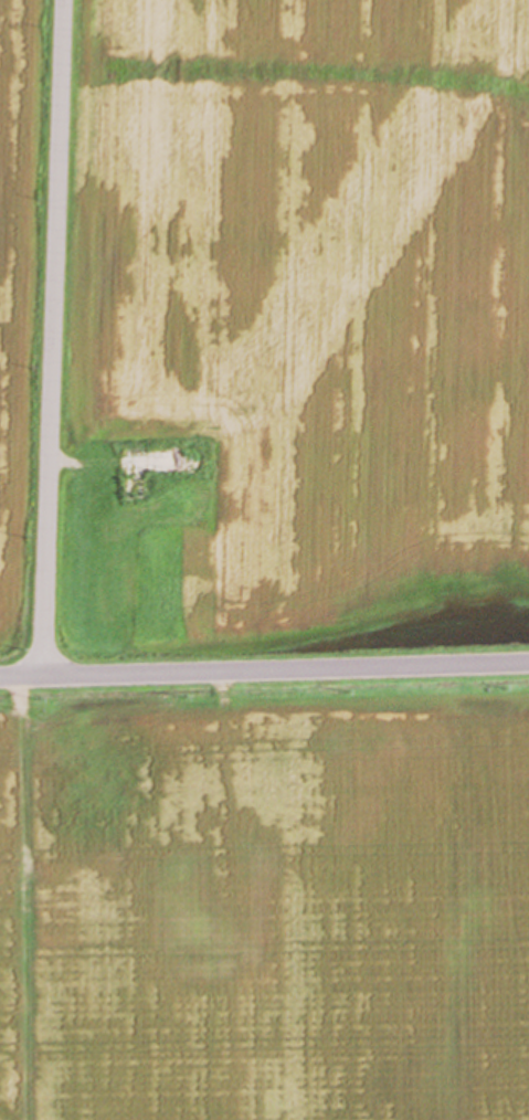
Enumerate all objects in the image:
road: (53, 338)
road: (264, 669)

